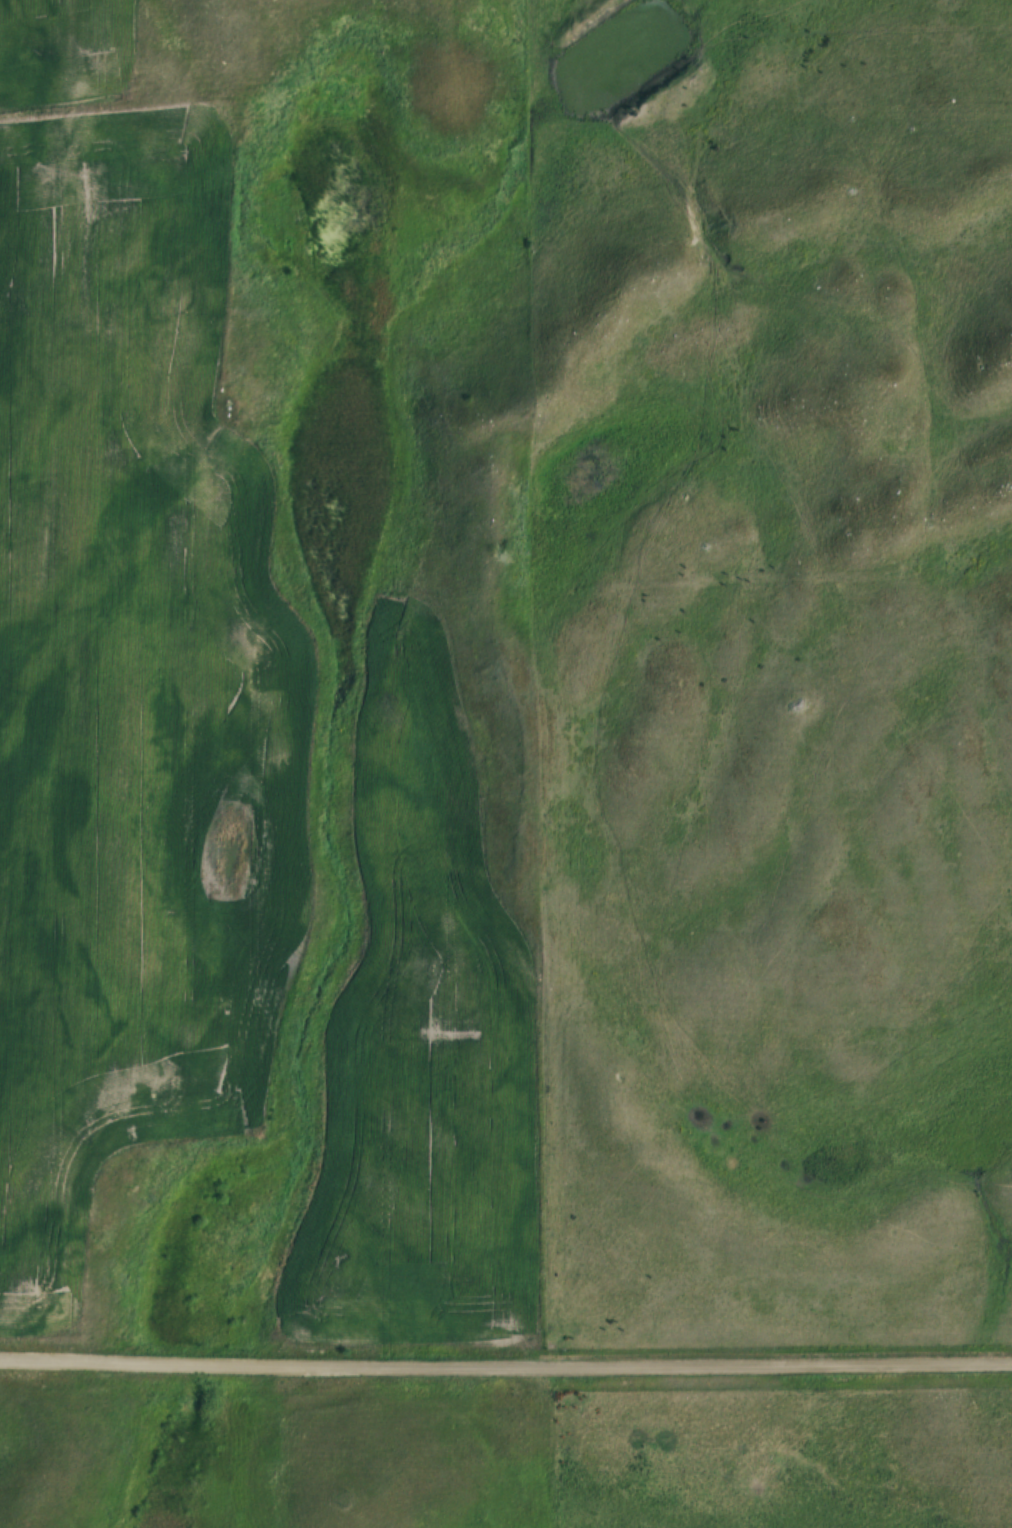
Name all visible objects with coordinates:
road: (505, 1372)

